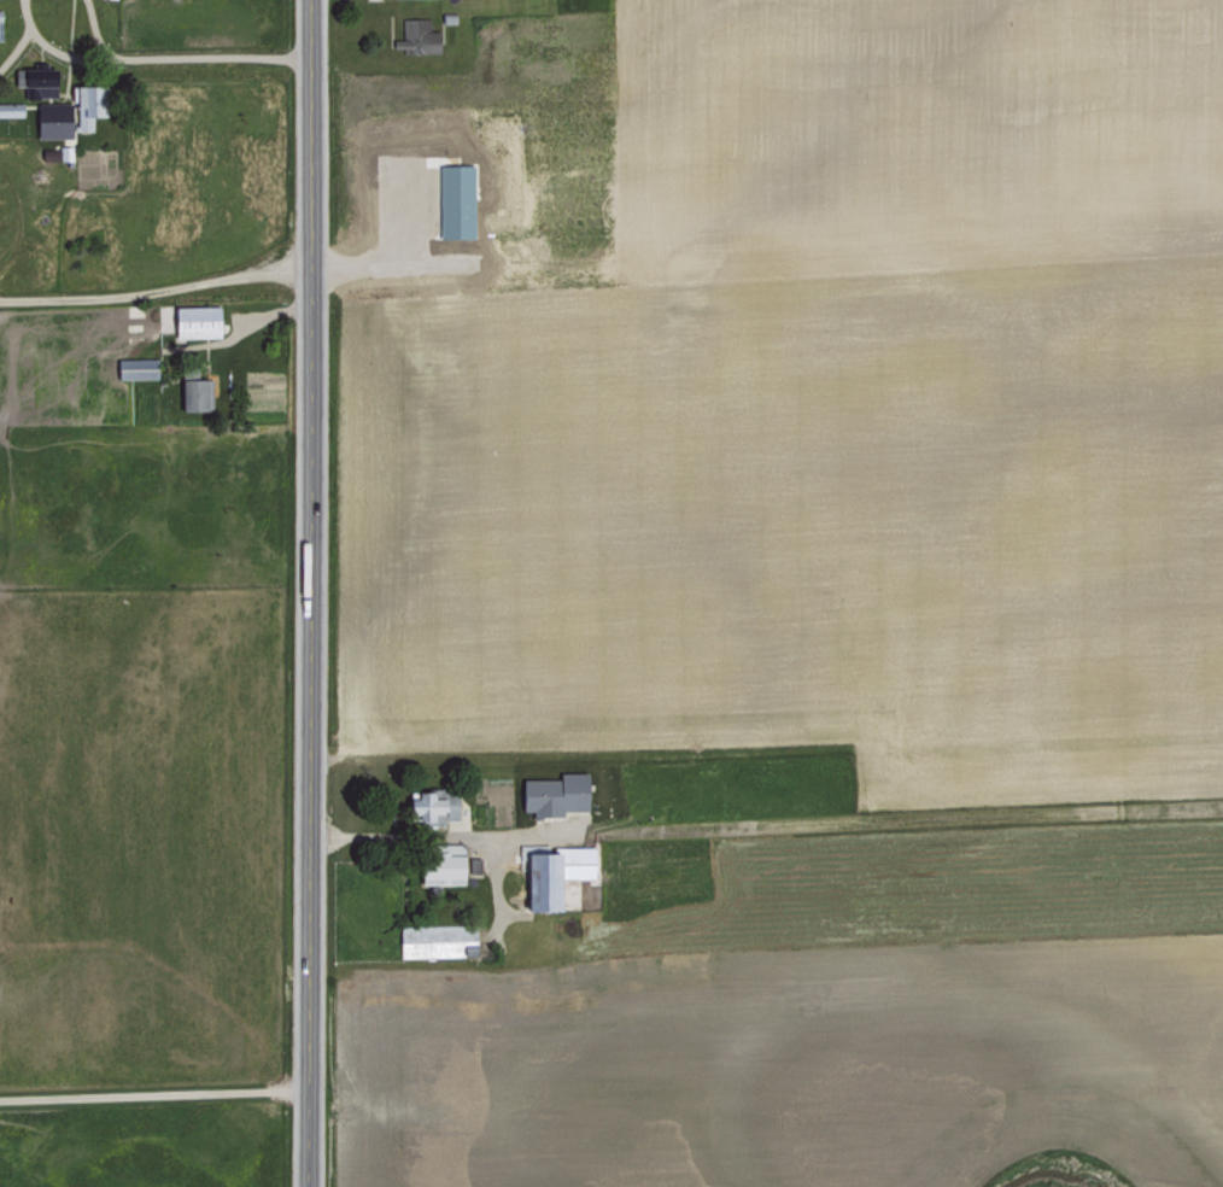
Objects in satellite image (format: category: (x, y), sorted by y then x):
building: (415, 34)
building: (0, 36)
road: (177, 57)
building: (35, 78)
building: (88, 103)
building: (11, 107)
building: (51, 118)
building: (455, 199)
road: (153, 288)
building: (195, 320)
building: (135, 366)
building: (194, 392)
road: (306, 593)
building: (554, 793)
building: (431, 806)
road: (432, 831)
building: (441, 864)
building: (473, 864)
building: (551, 871)
building: (437, 939)
road: (150, 1090)

